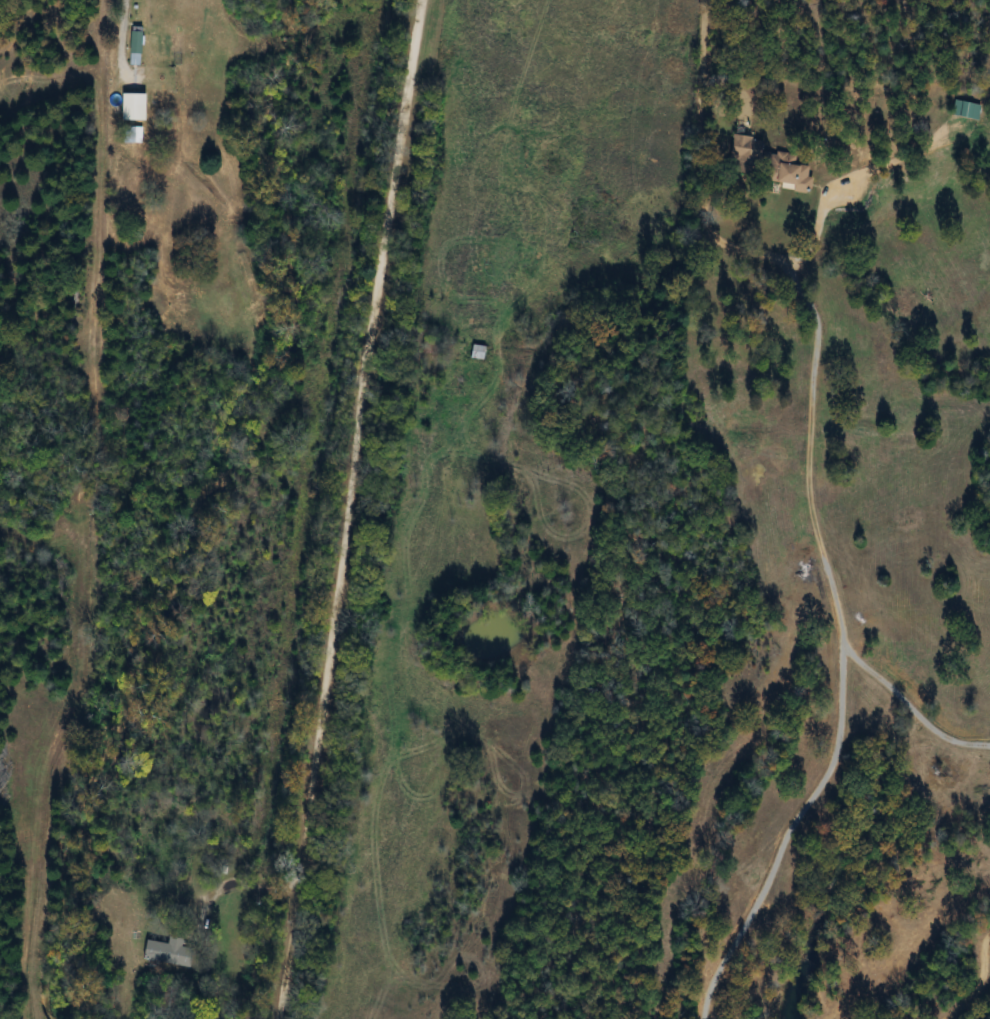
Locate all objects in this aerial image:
building: (139, 42)
building: (138, 107)
building: (964, 112)
building: (136, 135)
building: (765, 164)
road: (714, 210)
road: (194, 266)
building: (476, 352)
road: (348, 509)
road: (249, 891)
building: (169, 953)

